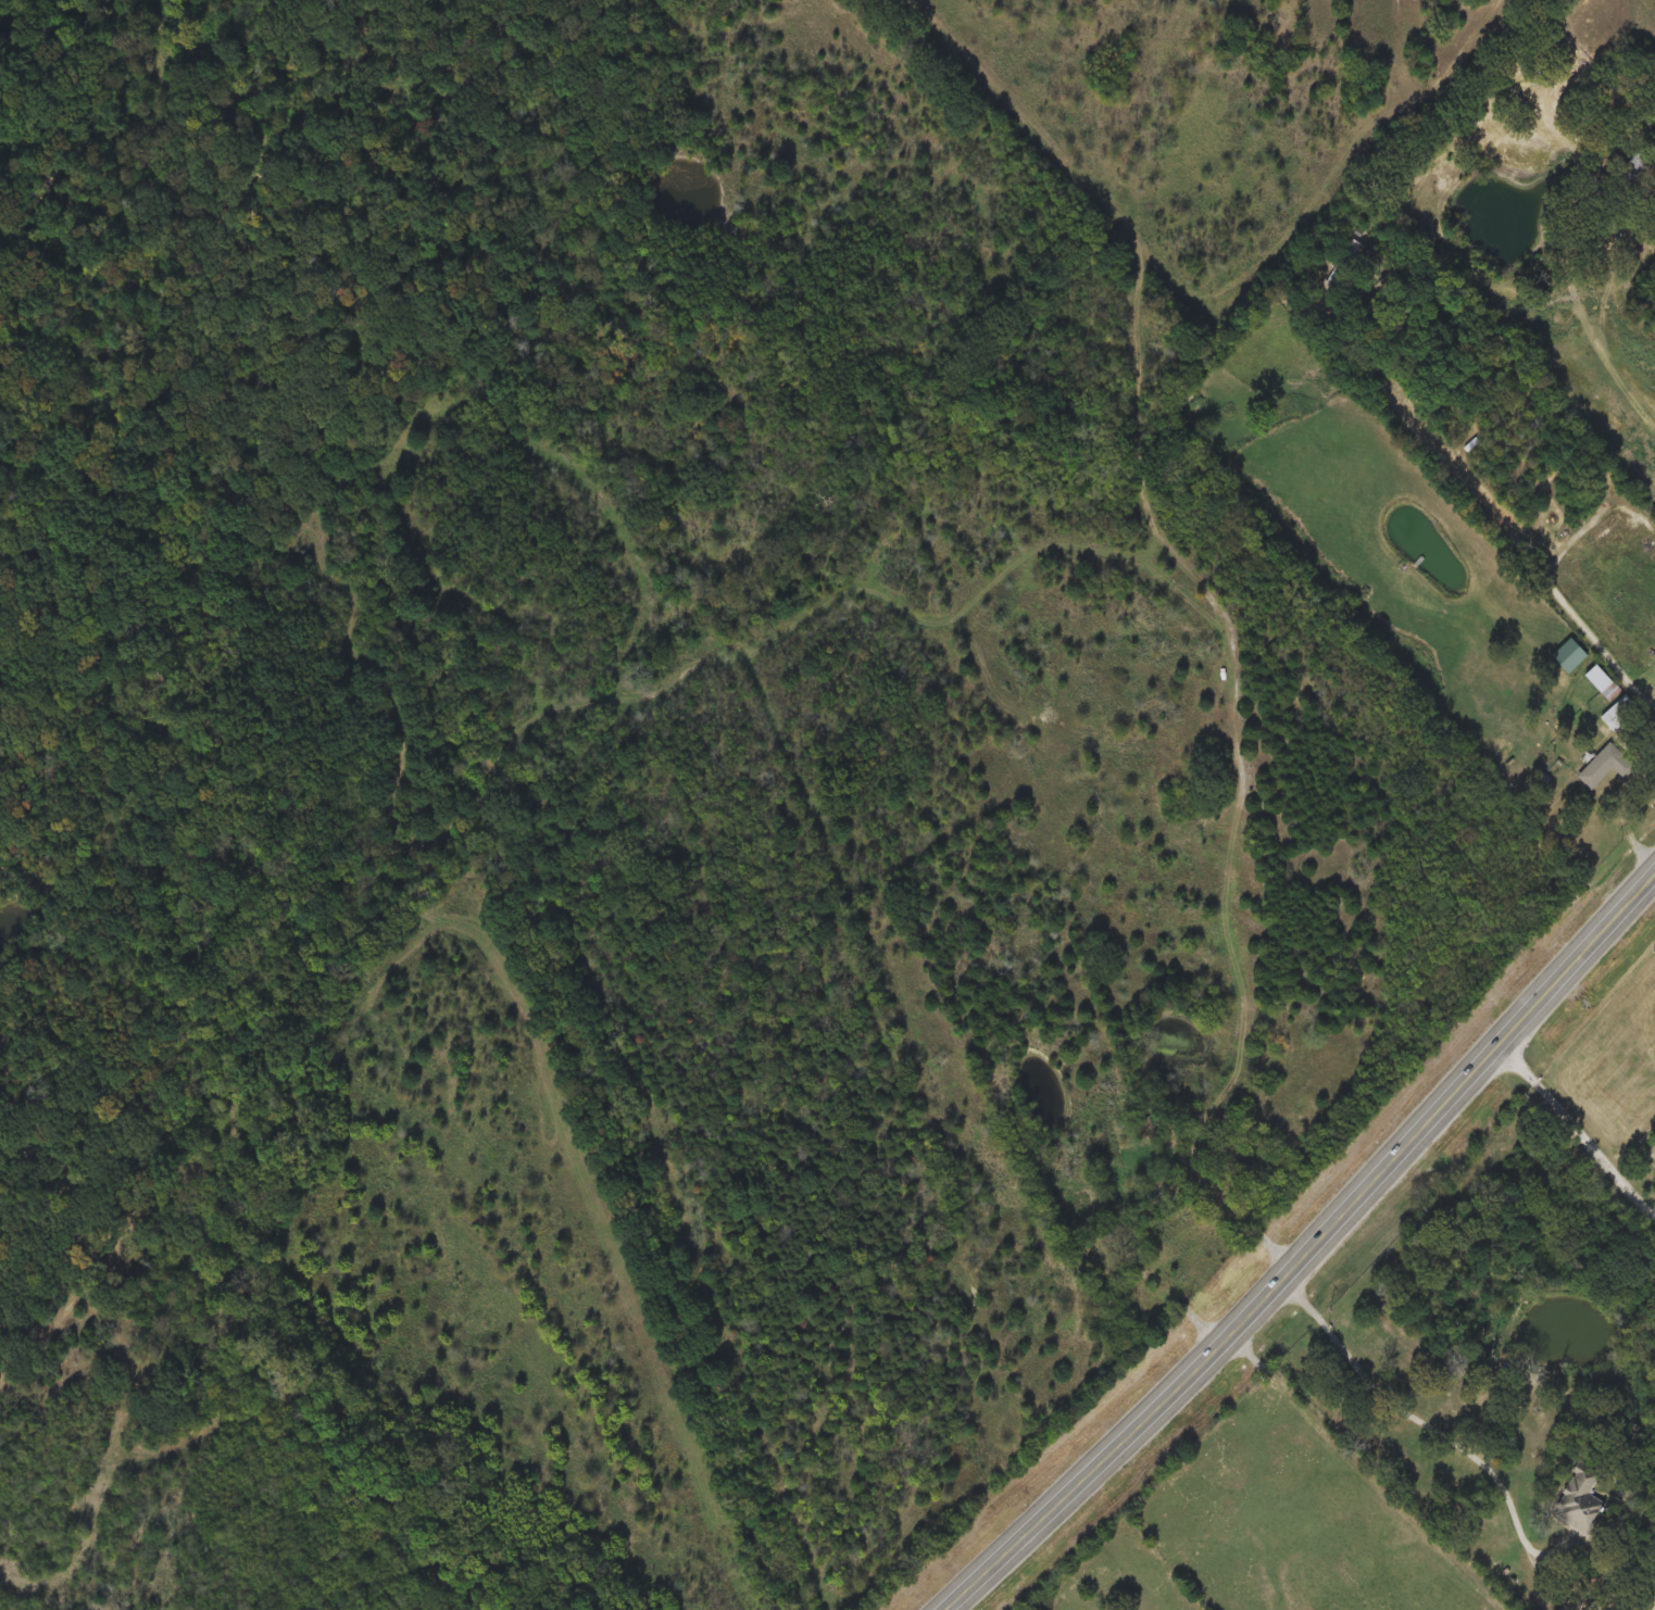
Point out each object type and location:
building: (1637, 167)
building: (1343, 263)
building: (1469, 444)
road: (1485, 514)
building: (1612, 529)
building: (1603, 682)
building: (1620, 714)
building: (1605, 766)
road: (1621, 818)
road: (1577, 1130)
road: (1307, 1249)
road: (1435, 1430)
road: (1365, 1472)
building: (1578, 1489)
road: (1137, 1544)

